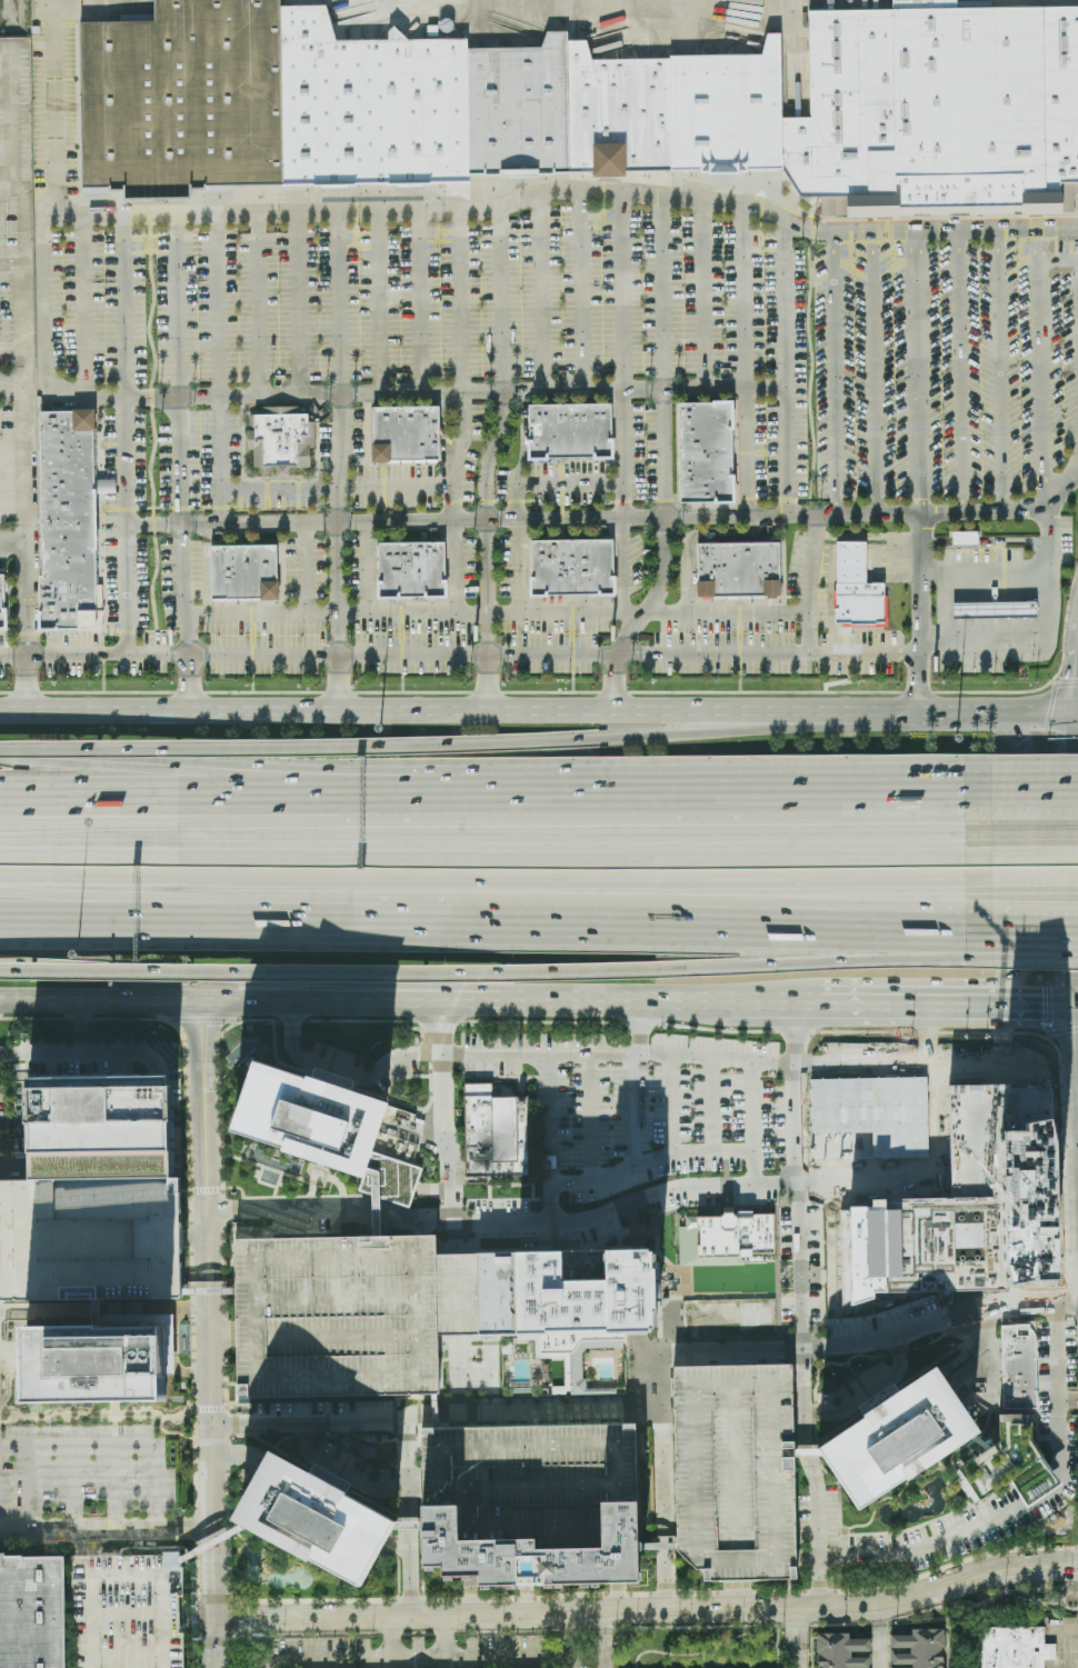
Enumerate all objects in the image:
building: (184, 99)
road: (59, 103)
building: (372, 106)
building: (940, 106)
building: (523, 108)
building: (732, 112)
building: (622, 114)
road: (465, 207)
road: (22, 211)
road: (581, 291)
road: (621, 292)
road: (541, 294)
road: (665, 294)
road: (460, 299)
road: (380, 300)
road: (419, 300)
road: (296, 301)
road: (216, 302)
road: (257, 302)
parking lot: (99, 307)
parking lot: (496, 308)
parking lot: (942, 369)
road: (1041, 370)
road: (786, 371)
road: (809, 374)
road: (919, 374)
road: (12, 384)
road: (430, 392)
road: (153, 430)
road: (525, 431)
road: (128, 432)
building: (570, 432)
building: (406, 435)
building: (280, 438)
road: (462, 439)
building: (706, 453)
parking lot: (199, 455)
road: (623, 455)
road: (746, 455)
road: (218, 461)
road: (487, 462)
road: (180, 463)
road: (337, 463)
parking lot: (593, 475)
road: (571, 482)
road: (412, 483)
road: (277, 489)
road: (1052, 499)
building: (69, 521)
road: (576, 521)
parking lot: (110, 522)
road: (690, 539)
building: (965, 539)
road: (517, 541)
road: (12, 543)
road: (26, 552)
road: (665, 559)
road: (451, 568)
building: (572, 568)
road: (306, 569)
road: (365, 569)
building: (412, 570)
building: (739, 570)
road: (987, 571)
building: (244, 572)
parking lot: (179, 578)
road: (1050, 583)
building: (856, 587)
building: (1, 603)
building: (995, 609)
gas station: (995, 609)
road: (410, 613)
road: (259, 615)
road: (563, 615)
road: (773, 616)
road: (925, 616)
parking lot: (553, 620)
parking lot: (279, 625)
parking lot: (410, 625)
road: (809, 636)
parking lot: (773, 638)
road: (517, 657)
parking lot: (103, 659)
road: (974, 715)
road: (435, 718)
road: (616, 736)
road: (207, 749)
road: (318, 776)
road: (1034, 793)
road: (814, 796)
road: (318, 797)
road: (285, 816)
road: (496, 845)
road: (1035, 846)
road: (1020, 868)
road: (493, 878)
road: (1032, 881)
road: (298, 906)
road: (496, 920)
road: (1035, 922)
road: (1034, 950)
road: (824, 962)
road: (329, 975)
road: (258, 983)
road: (623, 1002)
road: (100, 1003)
road: (358, 1003)
road: (777, 1006)
road: (895, 1006)
road: (1024, 1008)
road: (202, 1020)
road: (248, 1020)
road: (292, 1020)
road: (360, 1020)
road: (439, 1021)
road: (546, 1021)
road: (448, 1027)
road: (418, 1028)
road: (77, 1029)
road: (430, 1029)
road: (645, 1029)
road: (712, 1032)
road: (751, 1033)
road: (791, 1035)
road: (925, 1036)
road: (463, 1038)
road: (421, 1053)
road: (463, 1053)
road: (616, 1053)
road: (77, 1055)
road: (275, 1060)
road: (331, 1061)
road: (812, 1063)
road: (880, 1063)
road: (346, 1071)
road: (1075, 1072)
road: (399, 1080)
road: (539, 1080)
fountain: (498, 1090)
parking lot: (642, 1103)
road: (675, 1105)
road: (410, 1106)
road: (716, 1106)
road: (219, 1110)
road: (637, 1110)
road: (189, 1113)
building: (310, 1116)
road: (590, 1118)
road: (792, 1122)
road: (417, 1126)
building: (101, 1129)
road: (427, 1131)
building: (496, 1133)
road: (548, 1139)
road: (752, 1142)
road: (671, 1155)
road: (432, 1167)
road: (448, 1170)
road: (571, 1187)
road: (433, 1188)
road: (435, 1188)
building: (399, 1189)
road: (207, 1190)
road: (376, 1200)
building: (376, 1201)
building: (967, 1206)
road: (288, 1208)
road: (412, 1208)
road: (222, 1209)
road: (605, 1215)
road: (435, 1218)
road: (1066, 1220)
road: (328, 1232)
road: (251, 1233)
road: (440, 1237)
building: (90, 1238)
building: (723, 1238)
road: (191, 1239)
road: (196, 1239)
road: (223, 1258)
road: (231, 1260)
road: (798, 1266)
road: (191, 1270)
road: (207, 1271)
road: (976, 1288)
road: (1044, 1288)
road: (1060, 1288)
road: (1031, 1291)
road: (208, 1294)
building: (583, 1294)
road: (1046, 1296)
road: (1009, 1298)
road: (1071, 1304)
road: (1028, 1307)
road: (224, 1308)
road: (192, 1309)
road: (103, 1311)
road: (452, 1315)
building: (335, 1316)
parking lot: (335, 1316)
road: (226, 1334)
road: (221, 1335)
road: (937, 1338)
road: (192, 1341)
road: (775, 1349)
road: (821, 1349)
road: (899, 1354)
road: (824, 1362)
building: (89, 1364)
road: (837, 1364)
fountain: (860, 1366)
building: (1019, 1367)
road: (851, 1370)
road: (193, 1372)
road: (193, 1372)
fountain: (835, 1375)
fountain: (841, 1379)
road: (227, 1380)
fountain: (834, 1380)
road: (231, 1385)
road: (865, 1390)
road: (870, 1392)
road: (890, 1392)
road: (802, 1397)
road: (1067, 1400)
road: (239, 1407)
road: (210, 1408)
road: (1012, 1411)
road: (478, 1412)
road: (816, 1414)
road: (420, 1415)
road: (327, 1417)
road: (395, 1420)
road: (310, 1421)
road: (228, 1422)
road: (985, 1424)
road: (1036, 1428)
road: (420, 1431)
road: (816, 1432)
road: (328, 1434)
road: (307, 1435)
road: (358, 1436)
road: (283, 1438)
road: (409, 1438)
road: (228, 1439)
building: (896, 1439)
building: (980, 1442)
road: (980, 1442)
road: (269, 1445)
road: (356, 1446)
road: (118, 1447)
road: (193, 1447)
road: (969, 1450)
building: (806, 1451)
fountain: (372, 1452)
road: (807, 1452)
road: (237, 1455)
road: (228, 1456)
road: (951, 1456)
road: (386, 1458)
road: (399, 1458)
road: (346, 1464)
building: (1011, 1464)
road: (940, 1465)
parking lot: (736, 1470)
road: (343, 1471)
road: (827, 1476)
building: (538, 1481)
parking lot: (538, 1481)
road: (905, 1486)
road: (70, 1489)
road: (111, 1489)
road: (400, 1489)
road: (30, 1490)
road: (952, 1495)
fountain: (911, 1501)
road: (376, 1504)
road: (401, 1511)
road: (840, 1518)
building: (311, 1519)
fountain: (1058, 1521)
road: (929, 1522)
road: (857, 1526)
road: (196, 1528)
building: (407, 1528)
road: (407, 1528)
road: (107, 1531)
road: (817, 1531)
road: (400, 1532)
building: (213, 1541)
road: (213, 1542)
road: (84, 1544)
road: (399, 1545)
building: (661, 1545)
road: (661, 1545)
road: (399, 1546)
road: (924, 1546)
road: (837, 1547)
road: (272, 1548)
fountain: (248, 1550)
building: (541, 1555)
road: (832, 1557)
fountain: (267, 1558)
road: (1028, 1564)
road: (941, 1569)
road: (196, 1574)
road: (411, 1575)
fountain: (301, 1578)
road: (659, 1580)
road: (701, 1584)
road: (422, 1586)
road: (788, 1587)
road: (737, 1592)
road: (781, 1592)
road: (820, 1592)
road: (642, 1594)
road: (667, 1594)
road: (699, 1594)
road: (620, 1595)
road: (497, 1596)
road: (567, 1596)
road: (739, 1596)
road: (502, 1599)
road: (527, 1599)
road: (619, 1599)
road: (214, 1600)
road: (409, 1600)
road: (473, 1600)
road: (475, 1600)
road: (269, 1602)
road: (526, 1602)
road: (214, 1608)
road: (599, 1610)
road: (86, 1611)
building: (128, 1611)
parking lot: (128, 1611)
building: (32, 1612)
road: (197, 1618)
road: (232, 1619)
road: (150, 1622)
road: (1062, 1631)
road: (569, 1634)
road: (290, 1635)
road: (797, 1637)
road: (877, 1637)
road: (445, 1638)
road: (602, 1638)
road: (390, 1639)
road: (214, 1640)
building: (1015, 1648)
building: (919, 1649)
road: (198, 1650)
building: (841, 1651)
road: (530, 1656)
road: (419, 1659)
road: (309, 1661)

